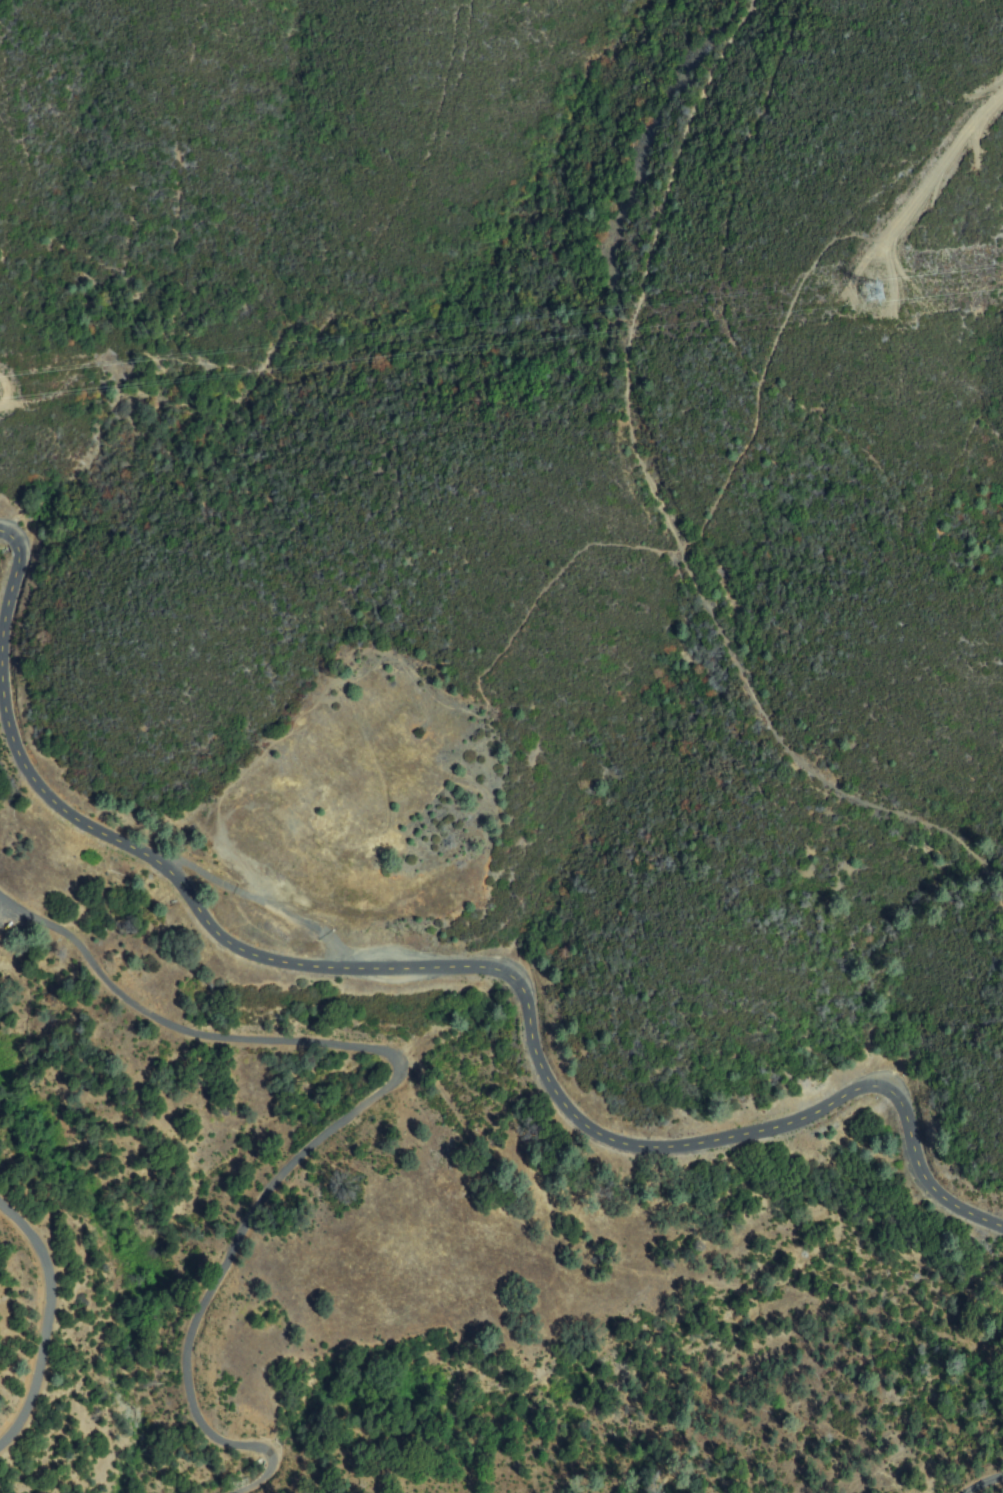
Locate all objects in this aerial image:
road: (943, 163)
power tower: (867, 293)
road: (764, 371)
road: (659, 504)
quarry: (372, 803)
road: (269, 906)
road: (445, 971)
road: (381, 1102)
road: (52, 1317)
road: (988, 1485)

